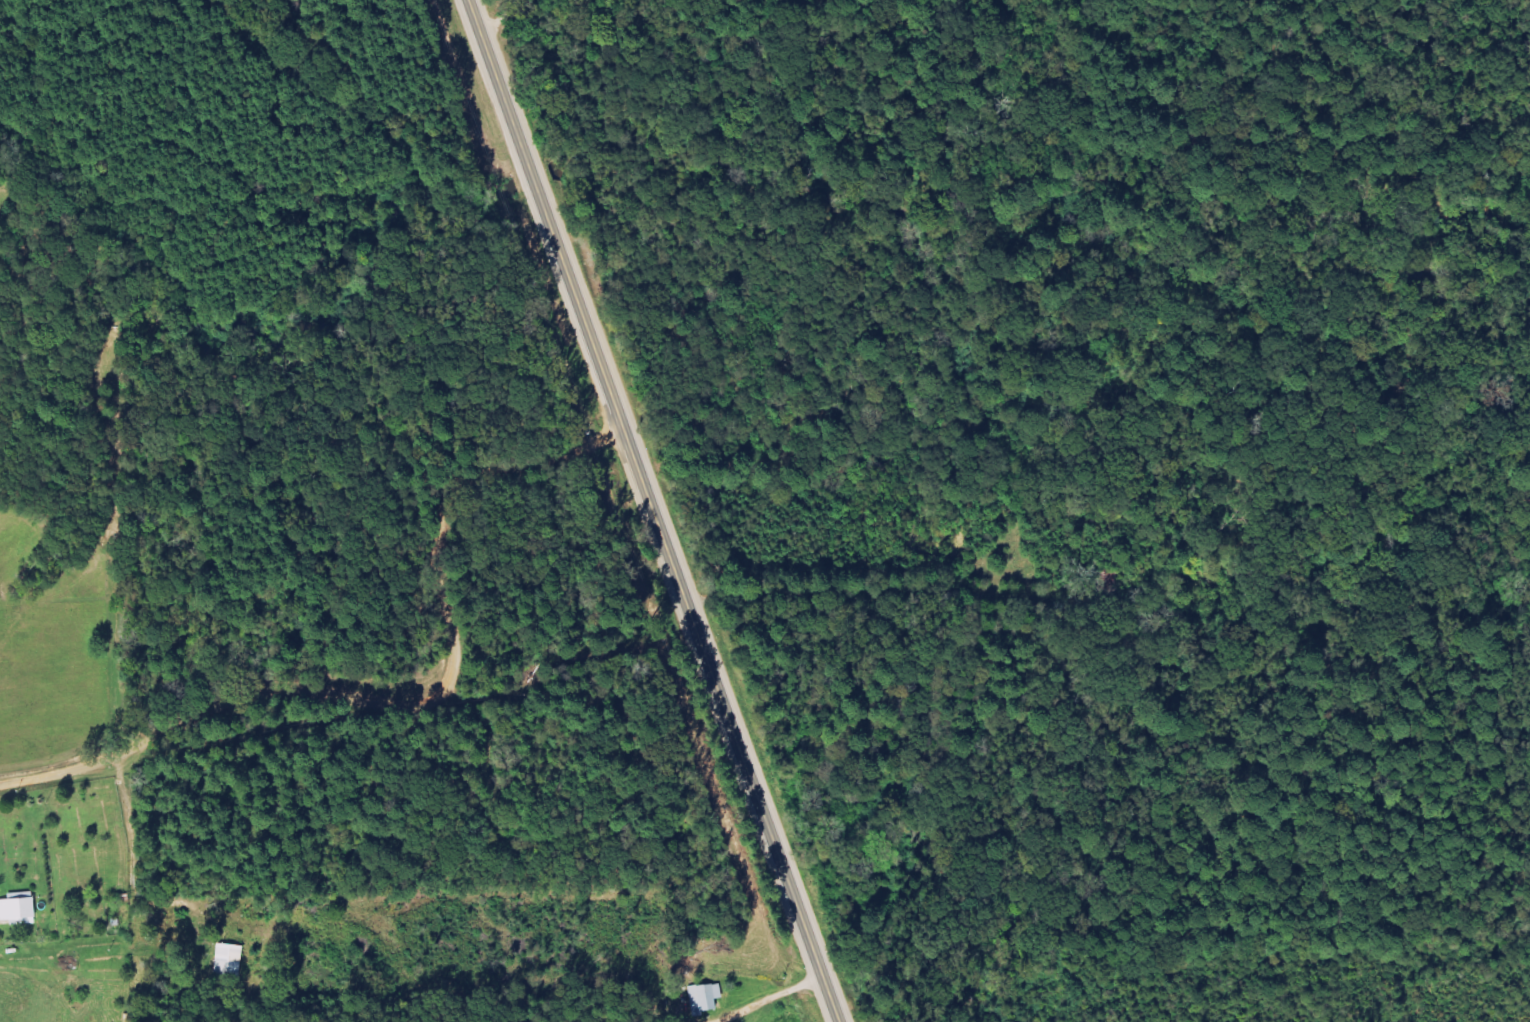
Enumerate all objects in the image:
road: (471, 3)
road: (573, 295)
road: (876, 598)
road: (395, 720)
road: (755, 806)
building: (22, 907)
building: (232, 960)
building: (709, 998)

